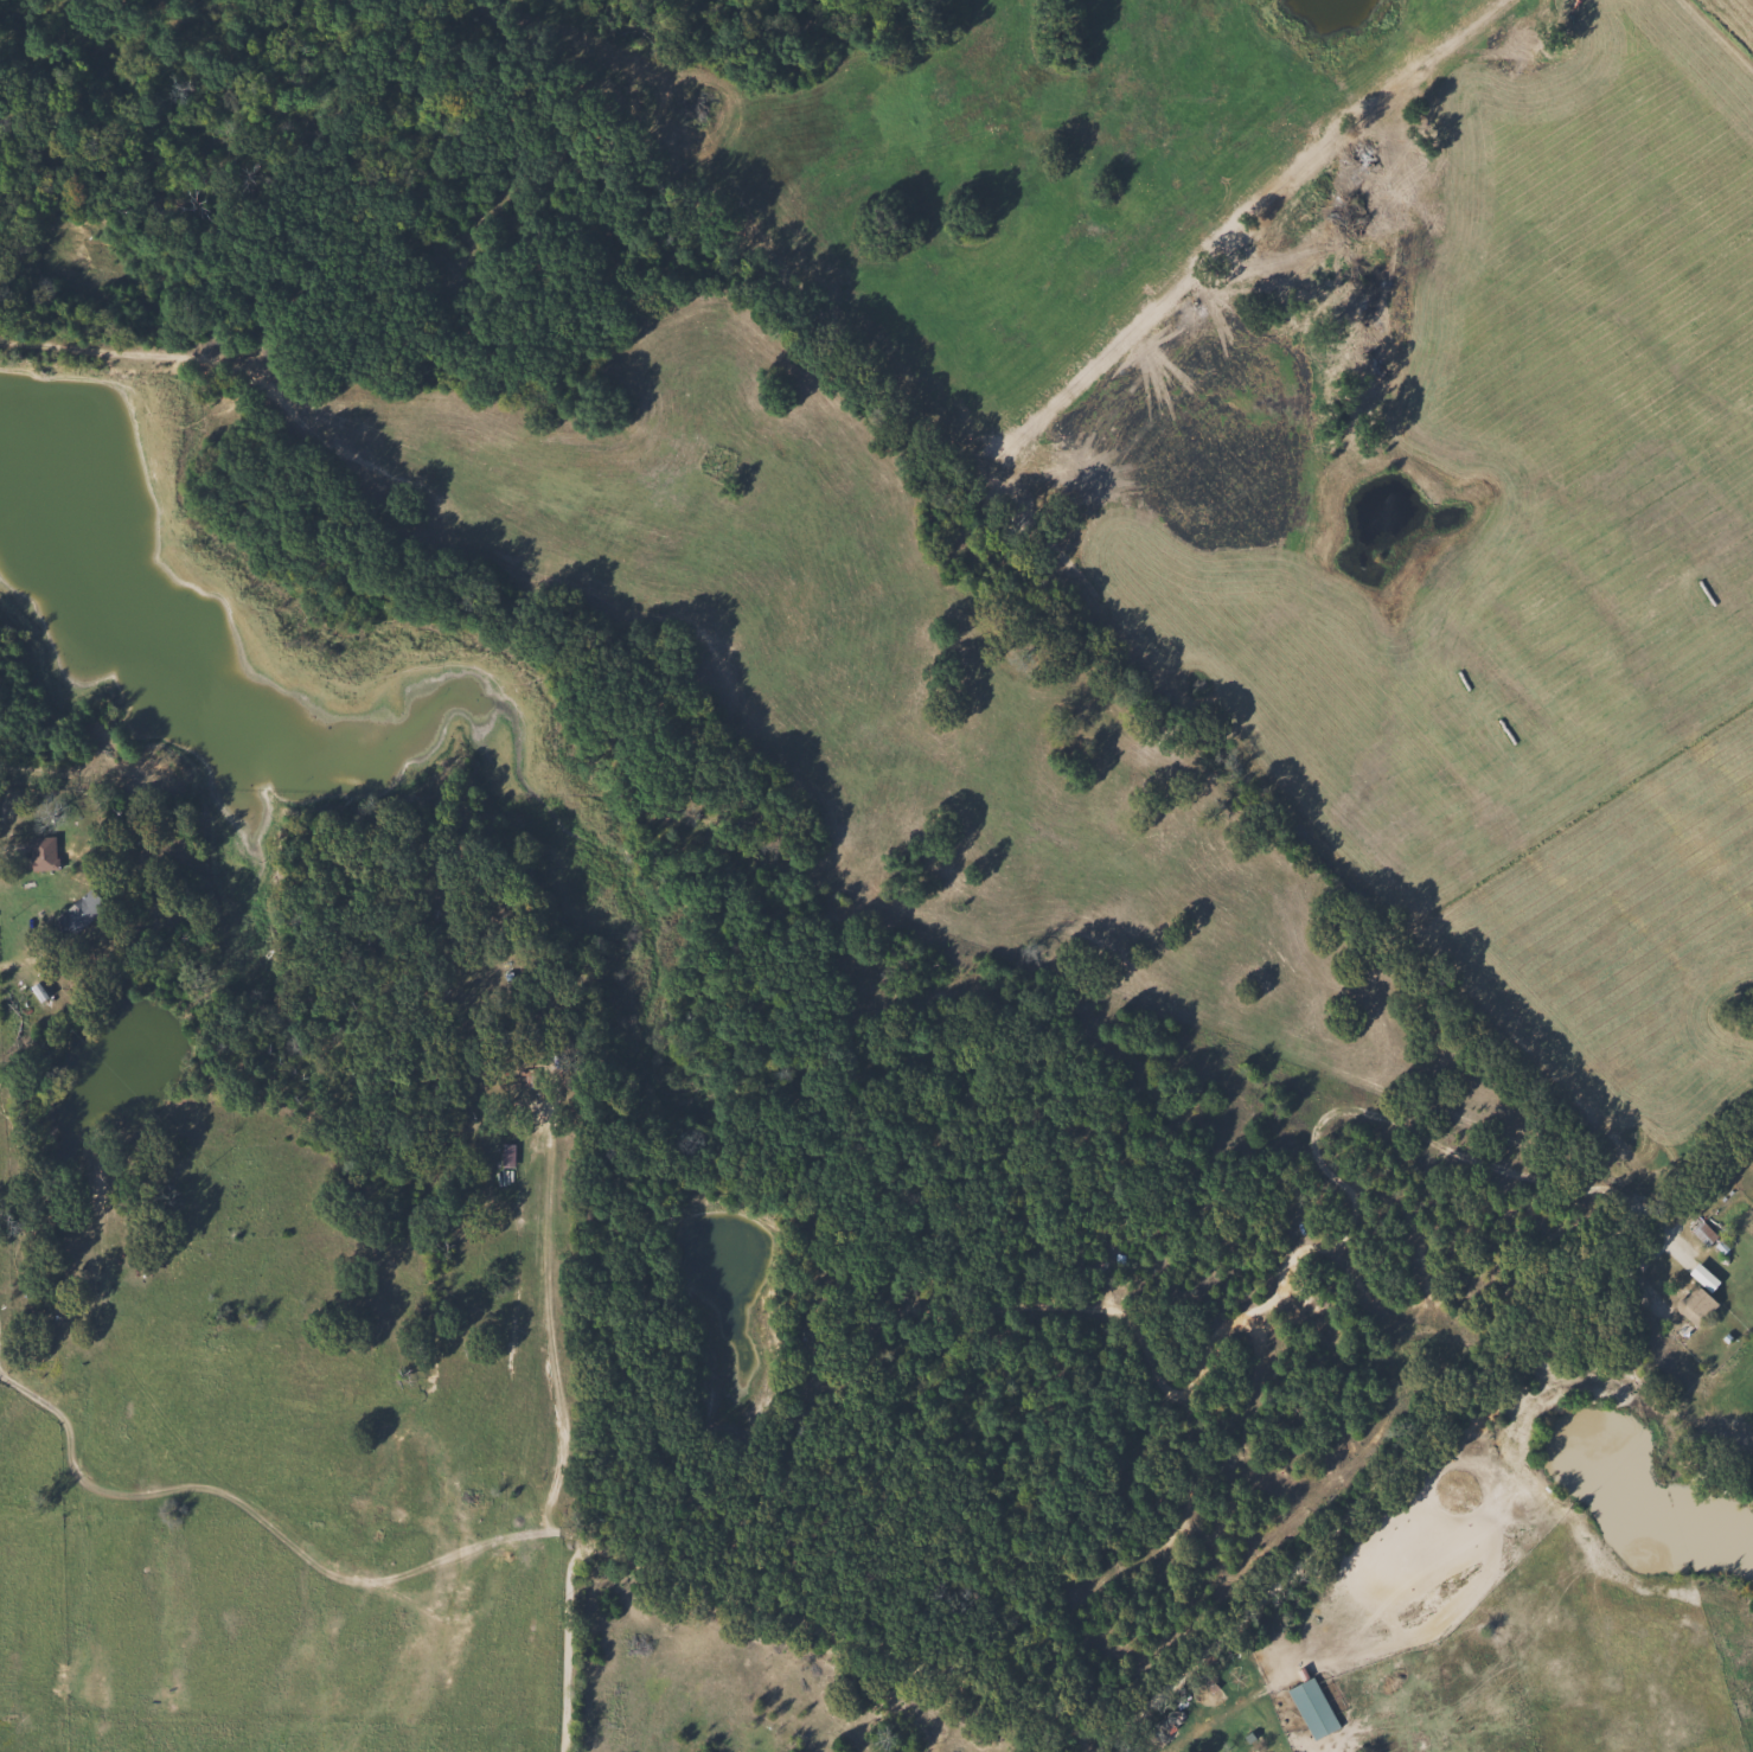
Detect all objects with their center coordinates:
building: (77, 912)
road: (17, 960)
building: (1701, 1233)
building: (1693, 1305)
road: (556, 1334)
road: (1367, 1490)
road: (292, 1514)
road: (839, 1637)
road: (563, 1645)

